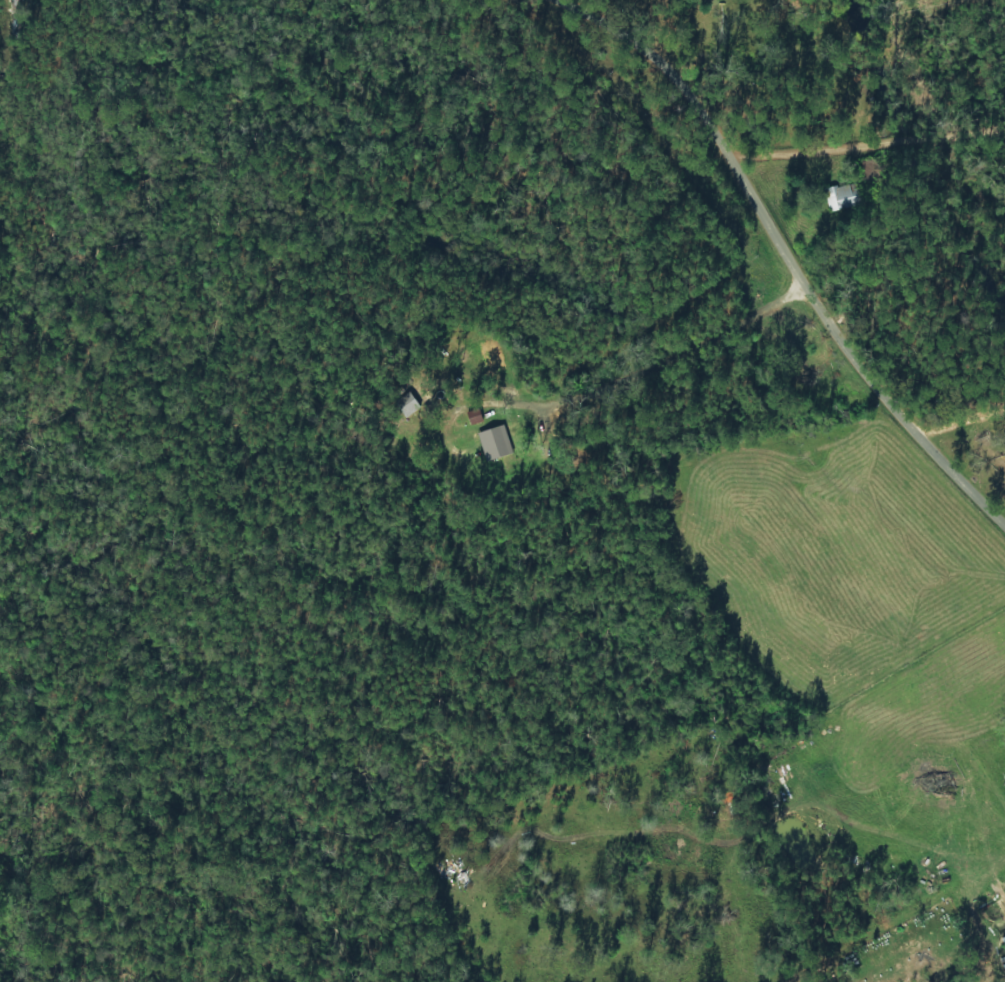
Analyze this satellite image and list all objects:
road: (624, 60)
road: (75, 64)
road: (861, 130)
building: (840, 196)
road: (748, 229)
road: (632, 368)
building: (474, 415)
road: (891, 426)
building: (495, 441)
road: (128, 733)

